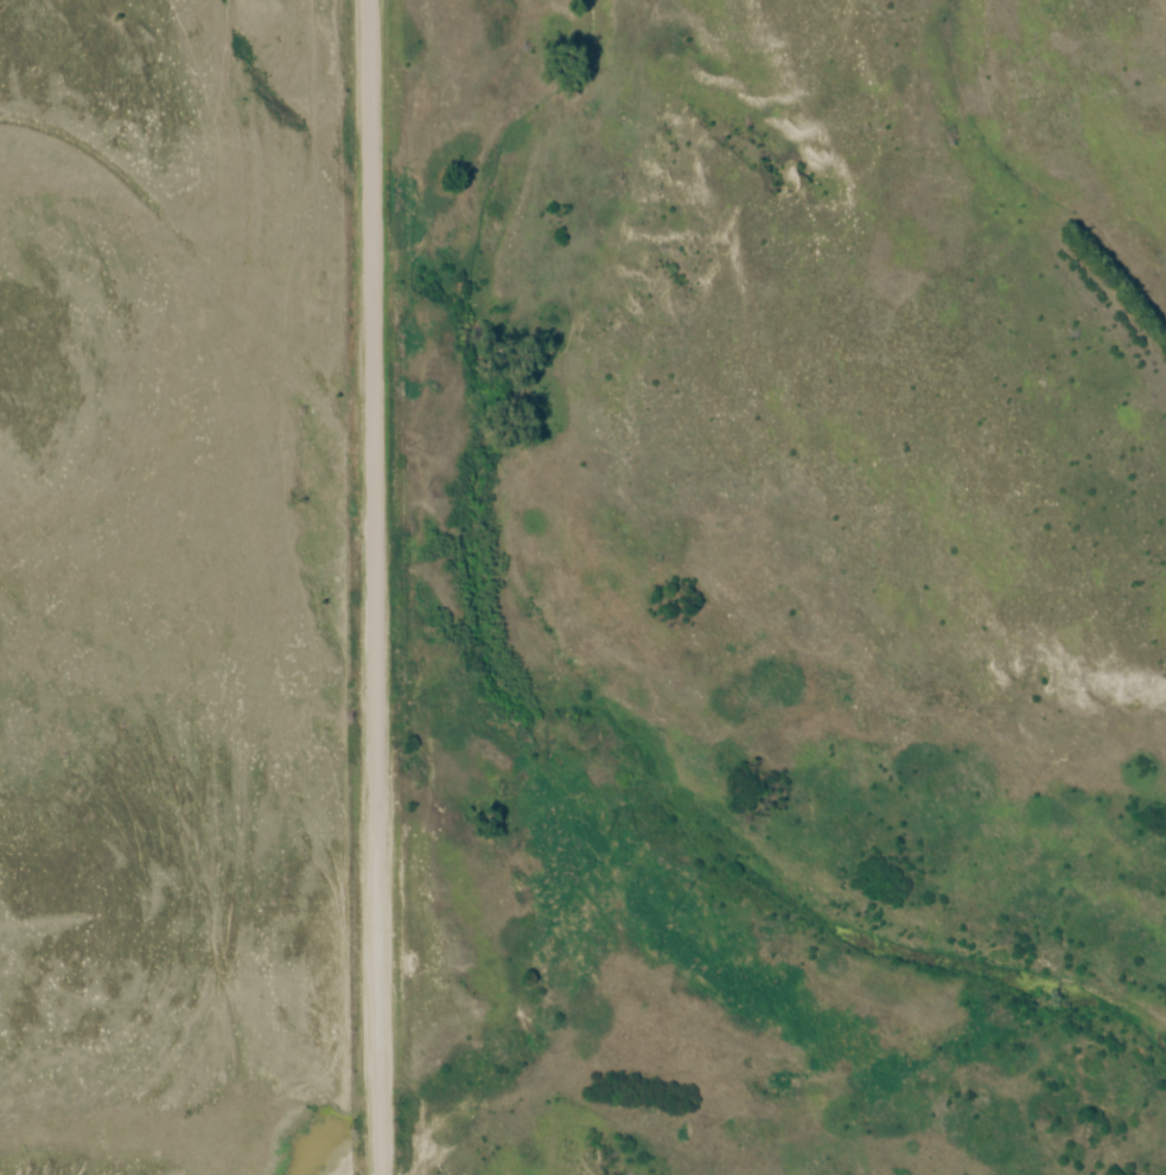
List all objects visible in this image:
road: (377, 587)

